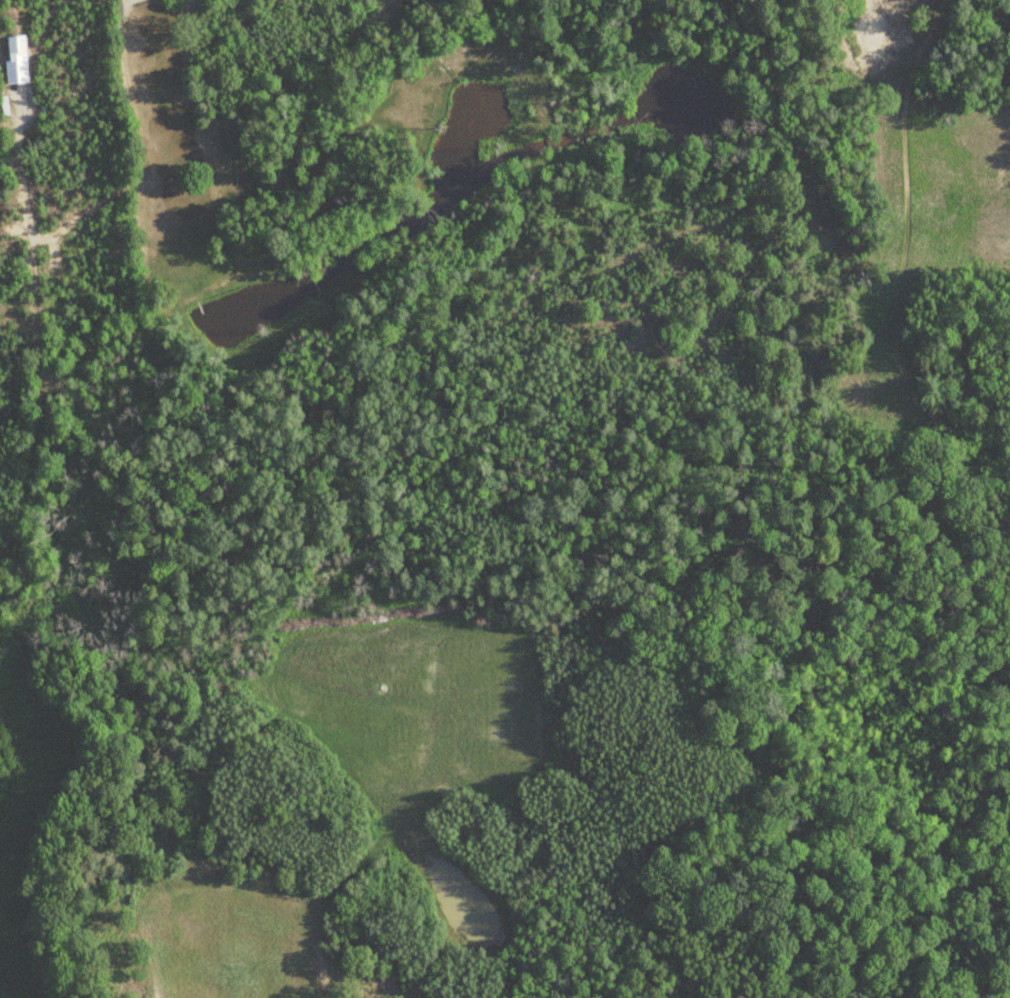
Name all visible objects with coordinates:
building: (12, 59)
building: (2, 106)

